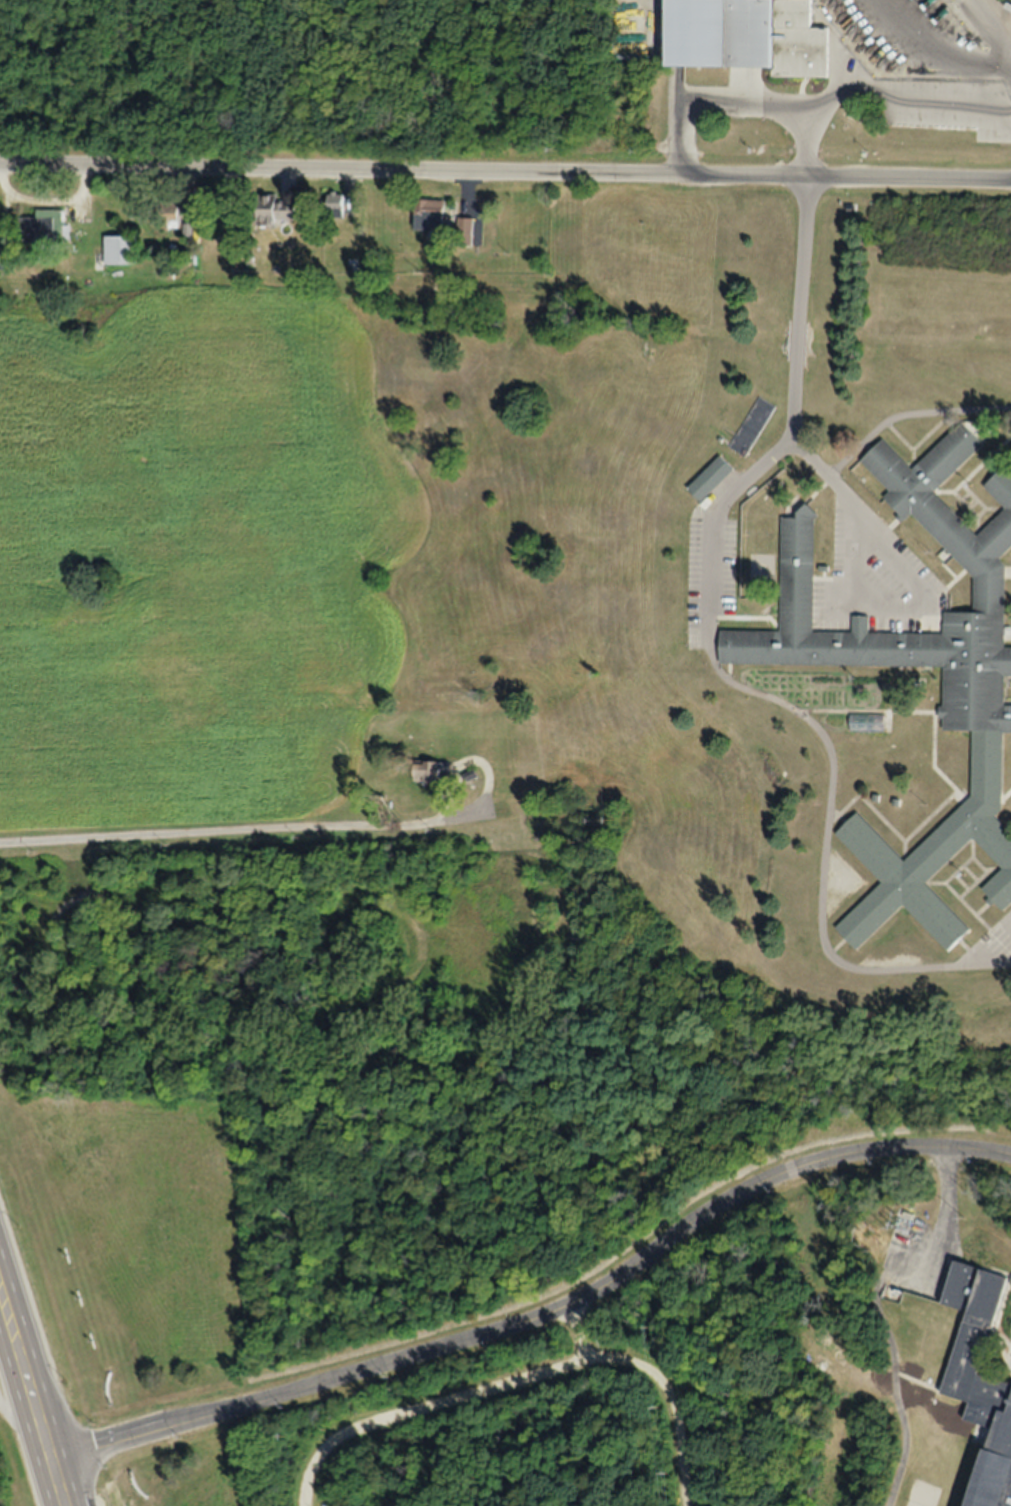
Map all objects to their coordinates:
building: (747, 36)
road: (939, 48)
road: (897, 93)
road: (739, 100)
road: (505, 180)
building: (333, 207)
building: (271, 211)
building: (430, 215)
building: (169, 216)
building: (44, 228)
building: (120, 250)
building: (751, 426)
building: (709, 479)
road: (880, 544)
road: (720, 675)
building: (976, 686)
building: (430, 771)
road: (215, 831)
road: (543, 1319)
road: (589, 1331)
road: (7, 1342)
building: (985, 1366)
road: (26, 1379)
road: (529, 1382)
road: (15, 1417)
road: (57, 1486)

